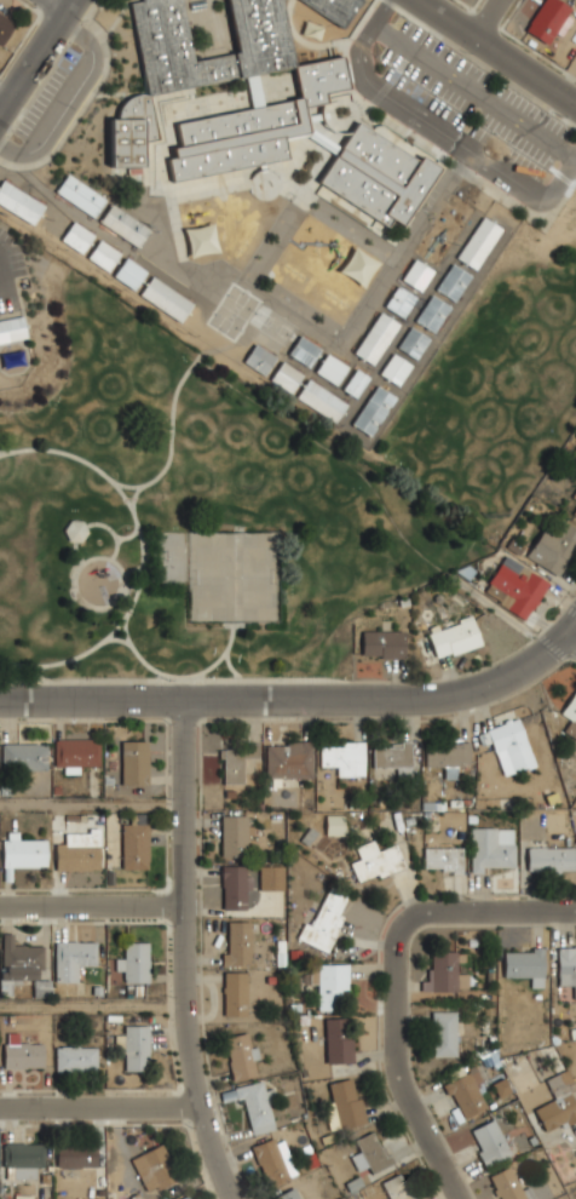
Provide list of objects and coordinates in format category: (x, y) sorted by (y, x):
road: (63, 4)
building: (335, 8)
road: (488, 18)
building: (549, 19)
building: (4, 28)
road: (497, 50)
road: (36, 56)
building: (195, 56)
road: (566, 75)
road: (6, 90)
road: (474, 91)
parking lot: (48, 92)
parking lot: (474, 97)
road: (69, 98)
building: (255, 126)
road: (437, 130)
building: (379, 174)
building: (81, 194)
building: (19, 201)
building: (126, 224)
building: (79, 236)
building: (201, 240)
building: (478, 242)
building: (104, 256)
parking lot: (10, 268)
road: (4, 270)
building: (129, 272)
building: (417, 274)
building: (451, 281)
road: (19, 294)
building: (166, 298)
building: (399, 300)
road: (23, 312)
building: (432, 314)
building: (12, 327)
building: (376, 337)
building: (411, 342)
building: (305, 350)
building: (260, 358)
building: (330, 368)
building: (394, 368)
building: (287, 375)
building: (356, 381)
building: (322, 400)
building: (373, 409)
road: (172, 435)
road: (5, 451)
road: (333, 453)
road: (136, 493)
building: (574, 495)
park: (179, 503)
building: (574, 514)
building: (75, 530)
road: (77, 530)
road: (131, 537)
road: (117, 540)
building: (553, 547)
road: (143, 557)
park: (234, 575)
road: (132, 587)
building: (515, 587)
road: (111, 604)
road: (499, 609)
road: (571, 636)
road: (119, 638)
building: (454, 638)
building: (382, 643)
road: (231, 667)
road: (40, 671)
road: (178, 676)
road: (85, 677)
road: (316, 681)
road: (298, 698)
building: (570, 716)
building: (508, 742)
building: (75, 753)
building: (392, 753)
building: (447, 755)
building: (24, 756)
building: (344, 757)
building: (289, 759)
building: (236, 761)
building: (134, 762)
road: (92, 803)
building: (335, 825)
building: (235, 836)
building: (136, 845)
building: (493, 847)
building: (77, 851)
building: (24, 853)
building: (551, 857)
building: (443, 859)
building: (376, 860)
building: (271, 877)
building: (236, 887)
road: (92, 905)
road: (489, 910)
building: (326, 920)
building: (236, 942)
road: (185, 953)
building: (74, 958)
building: (134, 960)
building: (23, 963)
building: (525, 963)
building: (566, 968)
building: (445, 973)
building: (329, 982)
building: (235, 993)
road: (92, 1004)
building: (444, 1032)
building: (338, 1039)
building: (136, 1046)
building: (22, 1052)
building: (241, 1055)
building: (76, 1057)
road: (398, 1066)
building: (466, 1092)
building: (345, 1102)
building: (558, 1102)
road: (100, 1105)
building: (254, 1105)
building: (489, 1142)
building: (371, 1152)
building: (23, 1154)
building: (76, 1155)
building: (271, 1161)
building: (155, 1168)
building: (507, 1183)
building: (398, 1187)
building: (288, 1194)
building: (186, 1198)

